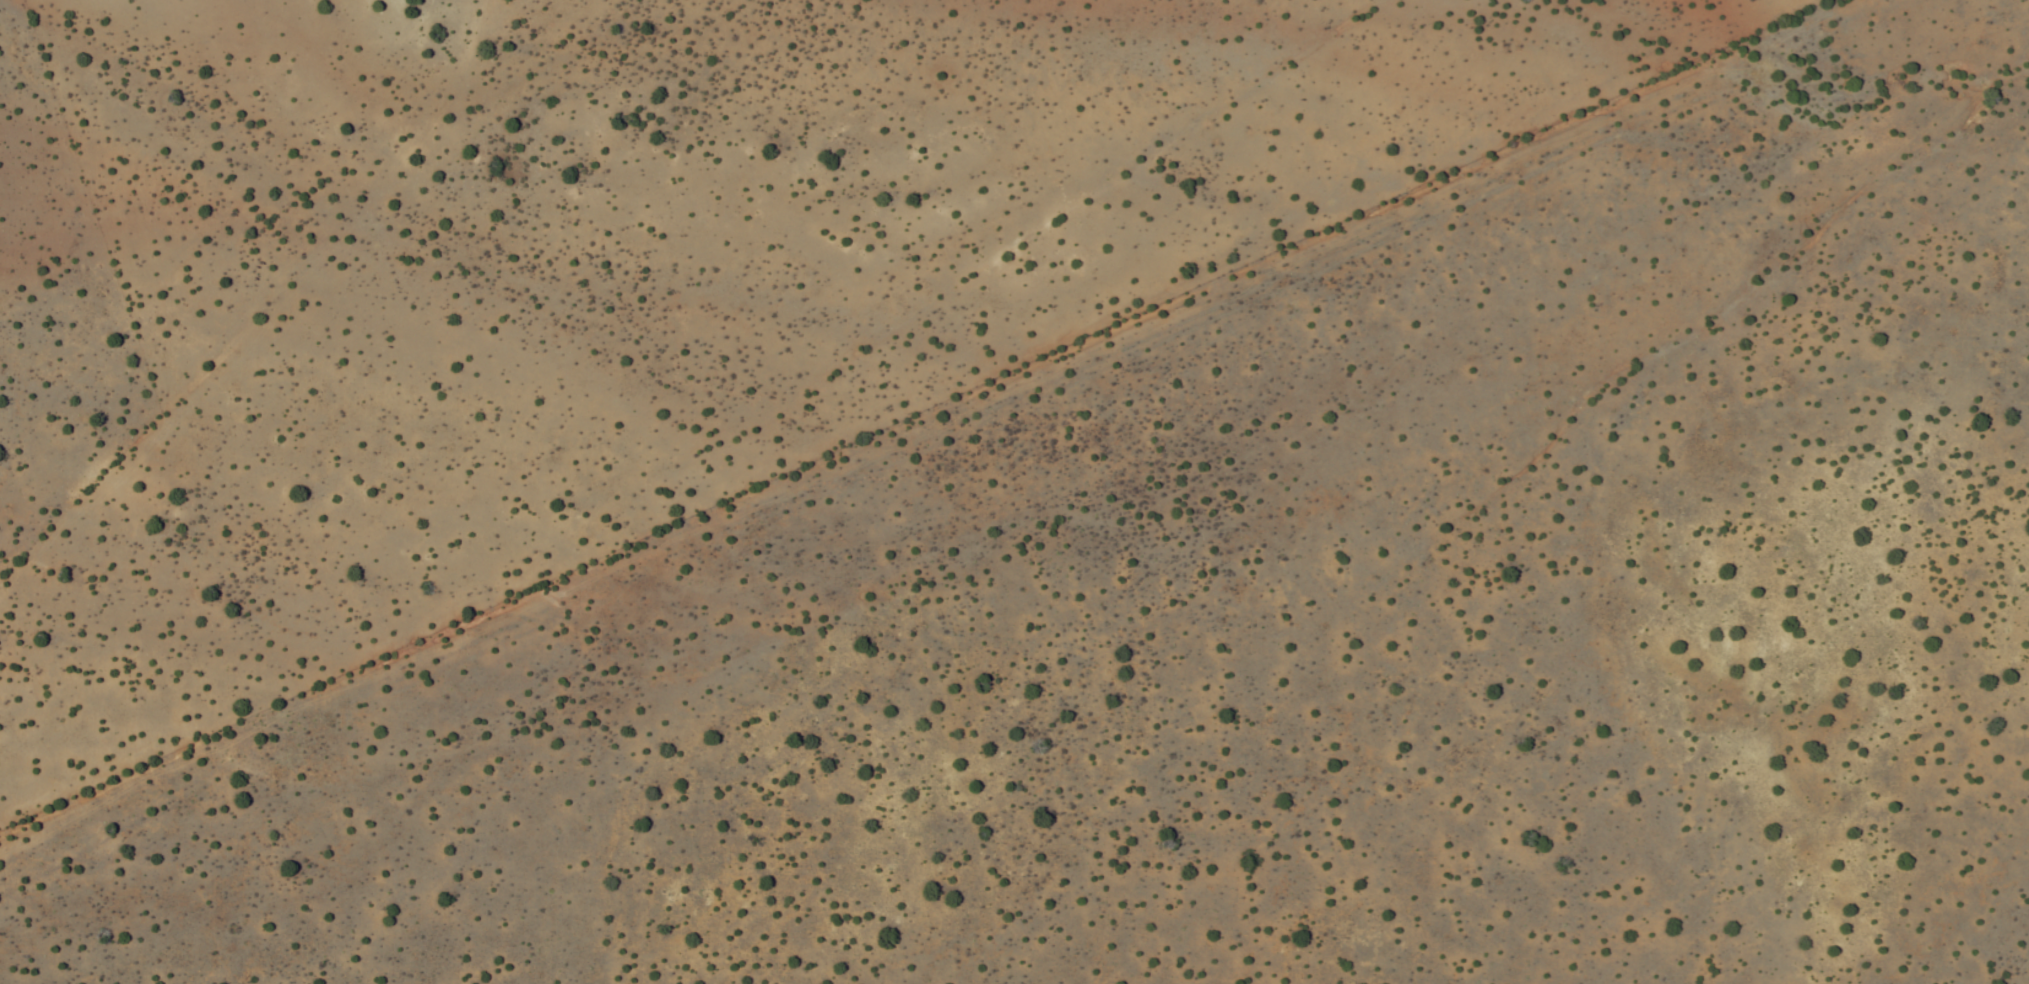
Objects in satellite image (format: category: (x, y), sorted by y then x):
road: (861, 376)

